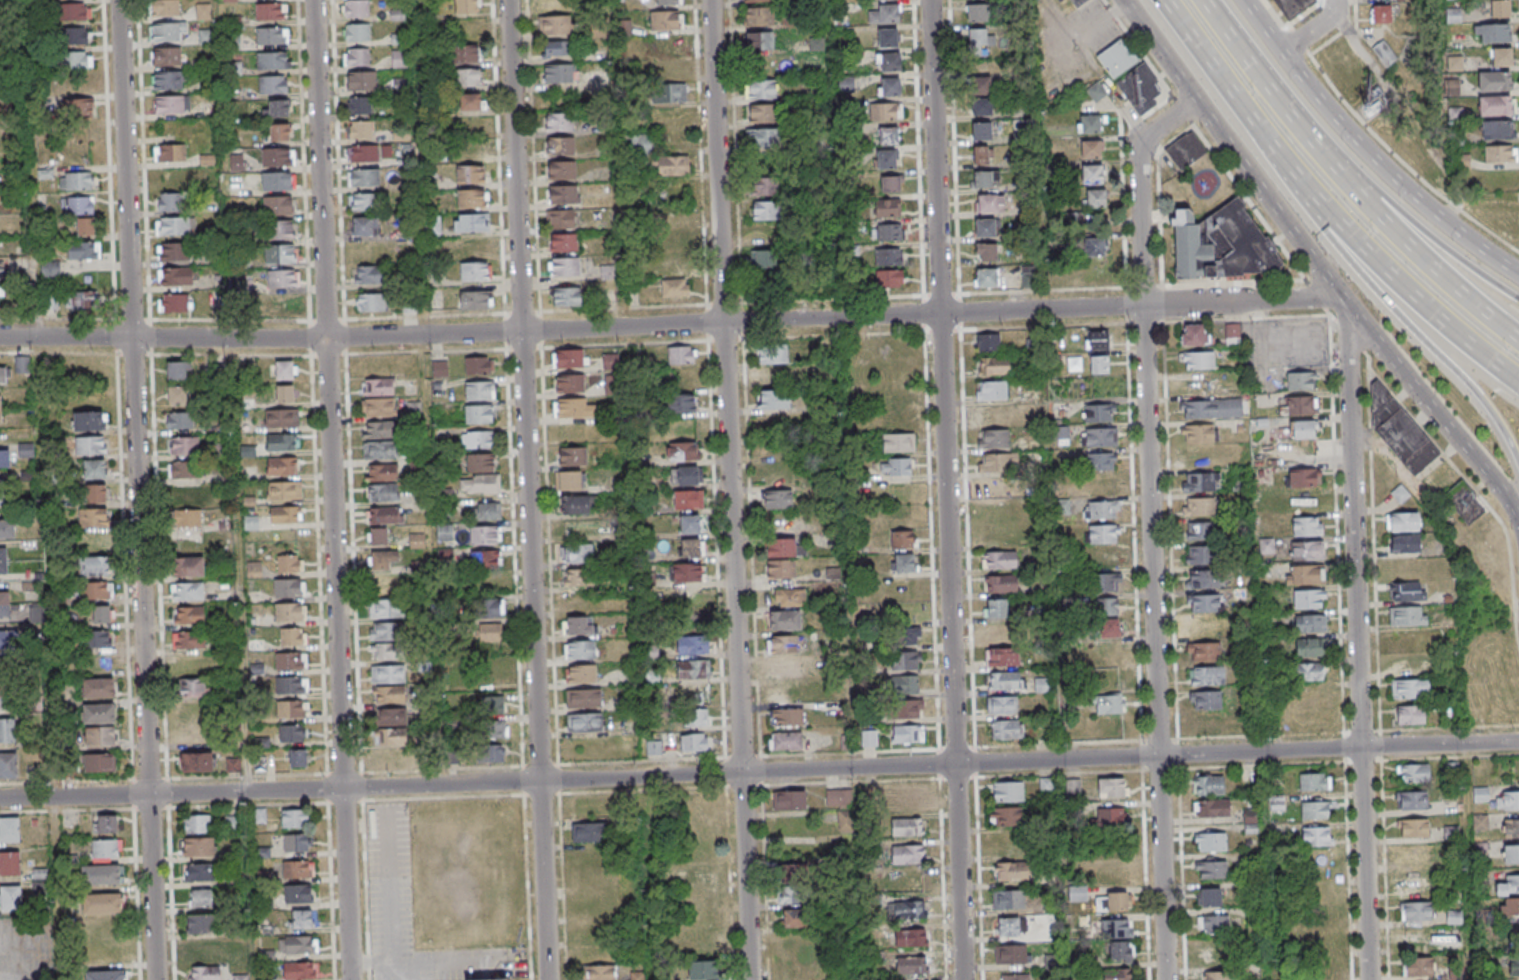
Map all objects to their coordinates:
building: (757, 1)
building: (669, 2)
building: (552, 4)
building: (164, 7)
building: (467, 7)
building: (1292, 7)
building: (356, 9)
building: (1500, 9)
building: (203, 11)
building: (270, 11)
building: (976, 12)
building: (884, 13)
road: (1355, 13)
building: (73, 14)
building: (397, 14)
building: (1381, 14)
road: (1276, 16)
building: (759, 18)
building: (665, 20)
building: (1092, 21)
building: (555, 26)
road: (1315, 29)
road: (1347, 29)
building: (166, 31)
building: (356, 33)
building: (1491, 34)
building: (272, 35)
building: (888, 37)
building: (978, 37)
building: (398, 39)
road: (1299, 39)
road: (1324, 43)
building: (760, 44)
building: (666, 45)
road: (1141, 48)
building: (555, 50)
building: (465, 53)
building: (1384, 53)
building: (166, 56)
building: (356, 57)
building: (1501, 57)
building: (398, 59)
building: (272, 60)
building: (77, 61)
building: (889, 61)
road: (1211, 66)
building: (559, 74)
building: (1131, 75)
building: (469, 77)
building: (169, 80)
building: (361, 81)
building: (1494, 81)
building: (272, 84)
building: (983, 85)
building: (400, 86)
building: (889, 86)
building: (761, 90)
building: (671, 93)
building: (471, 101)
building: (172, 105)
building: (1495, 105)
building: (360, 106)
building: (983, 106)
building: (276, 107)
building: (76, 108)
building: (887, 111)
building: (763, 115)
building: (559, 123)
building: (1089, 123)
building: (981, 130)
building: (1495, 130)
building: (359, 131)
building: (279, 132)
building: (888, 135)
building: (763, 139)
building: (642, 143)
building: (473, 147)
building: (560, 147)
building: (1090, 148)
road: (1366, 151)
building: (169, 152)
building: (1186, 152)
building: (363, 154)
building: (981, 155)
building: (1498, 155)
building: (277, 157)
building: (886, 158)
road: (1402, 161)
building: (669, 165)
road: (922, 166)
road: (1284, 167)
building: (561, 170)
building: (470, 174)
building: (1092, 174)
building: (364, 179)
building: (984, 179)
building: (76, 181)
road: (1254, 181)
building: (277, 182)
road: (1347, 182)
building: (890, 183)
building: (764, 187)
building: (563, 194)
road: (1161, 197)
building: (472, 198)
building: (1095, 198)
building: (170, 202)
building: (364, 203)
building: (990, 203)
building: (77, 206)
building: (889, 206)
building: (277, 207)
building: (765, 211)
building: (560, 218)
building: (472, 222)
building: (85, 227)
building: (175, 227)
building: (363, 227)
building: (985, 227)
building: (279, 231)
building: (888, 231)
road: (1432, 233)
building: (675, 239)
building: (563, 243)
building: (1222, 244)
building: (1093, 246)
building: (473, 247)
building: (83, 251)
building: (174, 252)
building: (986, 252)
building: (279, 255)
building: (888, 256)
building: (763, 261)
building: (675, 263)
building: (564, 267)
building: (50, 269)
building: (475, 271)
building: (369, 275)
building: (1027, 276)
building: (176, 277)
building: (889, 278)
building: (986, 278)
building: (281, 279)
road: (1223, 283)
building: (675, 287)
building: (0, 296)
road: (1411, 296)
building: (566, 297)
building: (475, 299)
building: (81, 301)
road: (781, 301)
building: (49, 303)
building: (174, 303)
building: (370, 303)
road: (670, 324)
road: (1063, 328)
road: (1417, 332)
building: (1194, 334)
building: (1232, 335)
building: (1096, 339)
building: (988, 342)
road: (627, 345)
building: (1032, 349)
building: (680, 355)
building: (772, 355)
building: (568, 358)
building: (1197, 360)
building: (21, 365)
building: (479, 365)
building: (993, 365)
building: (1099, 365)
building: (439, 368)
building: (177, 369)
building: (284, 370)
building: (218, 371)
building: (3, 375)
building: (1300, 380)
building: (570, 383)
building: (378, 386)
building: (991, 389)
building: (479, 390)
building: (285, 393)
building: (177, 394)
building: (774, 399)
building: (680, 402)
building: (1299, 405)
building: (379, 407)
building: (574, 407)
building: (0, 408)
building: (1211, 408)
building: (1098, 412)
building: (479, 413)
building: (281, 417)
building: (897, 418)
building: (88, 420)
building: (180, 420)
road: (1334, 422)
road: (431, 428)
building: (379, 429)
building: (1302, 429)
building: (1401, 429)
road: (1132, 431)
building: (1198, 433)
building: (1099, 436)
building: (993, 438)
building: (478, 439)
road: (1457, 440)
building: (281, 442)
building: (898, 442)
building: (89, 445)
building: (184, 446)
building: (380, 449)
building: (683, 450)
building: (572, 456)
building: (5, 458)
building: (1101, 461)
building: (480, 462)
building: (998, 462)
building: (281, 465)
building: (895, 466)
building: (94, 469)
building: (183, 471)
building: (381, 472)
building: (684, 475)
building: (1301, 477)
building: (1239, 478)
building: (568, 480)
building: (1201, 482)
building: (480, 483)
building: (992, 487)
building: (284, 489)
road: (967, 489)
road: (42, 490)
road: (138, 490)
road: (332, 490)
road: (529, 490)
road: (733, 490)
road: (949, 490)
building: (3, 492)
building: (382, 492)
building: (95, 493)
building: (186, 495)
building: (777, 498)
building: (688, 499)
building: (1467, 501)
building: (575, 504)
building: (1198, 507)
building: (1101, 509)
building: (486, 510)
building: (285, 514)
building: (383, 515)
building: (92, 516)
building: (187, 519)
building: (1403, 522)
building: (250, 523)
building: (690, 523)
building: (1307, 525)
building: (7, 528)
road: (1155, 528)
building: (1202, 530)
road: (1172, 532)
building: (1101, 533)
building: (484, 535)
building: (378, 536)
road: (550, 538)
building: (903, 539)
building: (94, 541)
building: (1404, 543)
building: (691, 547)
building: (1307, 550)
building: (576, 553)
building: (1200, 554)
building: (1104, 558)
building: (485, 559)
building: (3, 560)
building: (383, 560)
building: (999, 560)
building: (289, 563)
building: (903, 563)
road: (241, 565)
building: (94, 566)
building: (188, 566)
building: (781, 568)
building: (253, 569)
building: (687, 572)
building: (1305, 574)
building: (578, 577)
building: (1202, 578)
building: (1108, 581)
building: (385, 584)
building: (1001, 584)
building: (288, 588)
building: (97, 590)
building: (187, 591)
building: (1407, 591)
building: (789, 597)
building: (1309, 598)
building: (1204, 602)
building: (4, 603)
building: (1108, 606)
building: (488, 607)
building: (386, 608)
building: (996, 608)
building: (291, 611)
building: (101, 615)
building: (188, 615)
building: (1407, 615)
building: (784, 620)
building: (1309, 623)
building: (578, 625)
building: (1105, 627)
building: (1202, 627)
building: (386, 631)
building: (1000, 632)
building: (489, 633)
building: (908, 634)
building: (292, 636)
road: (937, 638)
building: (98, 639)
building: (188, 639)
building: (11, 640)
building: (693, 644)
road: (1361, 644)
building: (783, 645)
building: (1309, 648)
building: (579, 649)
building: (386, 651)
building: (1204, 651)
building: (1002, 656)
building: (290, 660)
building: (905, 660)
building: (8, 667)
building: (693, 668)
building: (783, 669)
building: (1308, 672)
building: (581, 673)
building: (387, 674)
building: (1206, 675)
building: (1005, 680)
road: (758, 682)
building: (904, 683)
building: (291, 684)
building: (98, 687)
building: (192, 687)
building: (1410, 688)
building: (782, 693)
building: (389, 695)
building: (9, 697)
building: (583, 697)
building: (1205, 699)
building: (1108, 703)
building: (493, 704)
building: (1002, 704)
building: (290, 708)
building: (904, 708)
building: (98, 713)
building: (1409, 714)
building: (391, 717)
building: (786, 717)
building: (696, 718)
building: (585, 721)
building: (1208, 724)
building: (494, 728)
building: (1005, 728)
building: (7, 730)
building: (291, 733)
building: (907, 733)
building: (99, 736)
building: (392, 737)
building: (785, 740)
building: (869, 740)
road: (1161, 741)
building: (846, 742)
building: (693, 743)
building: (653, 748)
building: (492, 753)
building: (297, 758)
building: (197, 761)
building: (99, 762)
building: (8, 764)
building: (233, 765)
building: (1452, 769)
road: (759, 771)
building: (1417, 773)
building: (1315, 782)
building: (1046, 785)
building: (1212, 785)
building: (1112, 787)
building: (1010, 791)
building: (1480, 794)
building: (907, 797)
building: (789, 799)
building: (1512, 800)
building: (1415, 801)
building: (841, 807)
building: (1216, 809)
building: (1316, 811)
building: (1010, 816)
building: (294, 818)
building: (1110, 818)
building: (105, 823)
building: (196, 823)
building: (233, 823)
building: (907, 826)
building: (1513, 827)
building: (9, 829)
building: (1416, 829)
building: (588, 831)
building: (1318, 836)
road: (1385, 837)
building: (296, 842)
building: (1213, 842)
building: (198, 846)
building: (105, 849)
building: (907, 854)
building: (1417, 854)
building: (1512, 854)
road: (1349, 856)
building: (10, 862)
road: (1470, 862)
road: (766, 867)
building: (298, 869)
building: (1215, 870)
building: (199, 871)
building: (1014, 871)
building: (1115, 873)
building: (101, 874)
building: (699, 874)
road: (647, 878)
building: (907, 882)
building: (1512, 883)
building: (794, 884)
building: (298, 893)
building: (200, 897)
building: (1209, 897)
building: (10, 898)
building: (1012, 899)
building: (1110, 900)
building: (102, 903)
building: (1512, 906)
building: (913, 909)
building: (1419, 911)
building: (1453, 917)
building: (302, 918)
building: (795, 919)
building: (201, 923)
building: (1217, 925)
building: (1009, 927)
building: (1117, 928)
building: (910, 938)
building: (1515, 938)
building: (298, 944)
building: (202, 949)
building: (1121, 951)
building: (1015, 954)
road: (424, 961)
building: (1515, 965)
building: (910, 966)
building: (1420, 966)
building: (1324, 969)
building: (301, 970)
building: (703, 970)
building: (601, 972)
building: (204, 973)
building: (1120, 974)
building: (105, 975)
building: (1219, 975)
building: (1019, 977)
building: (491, 979)

